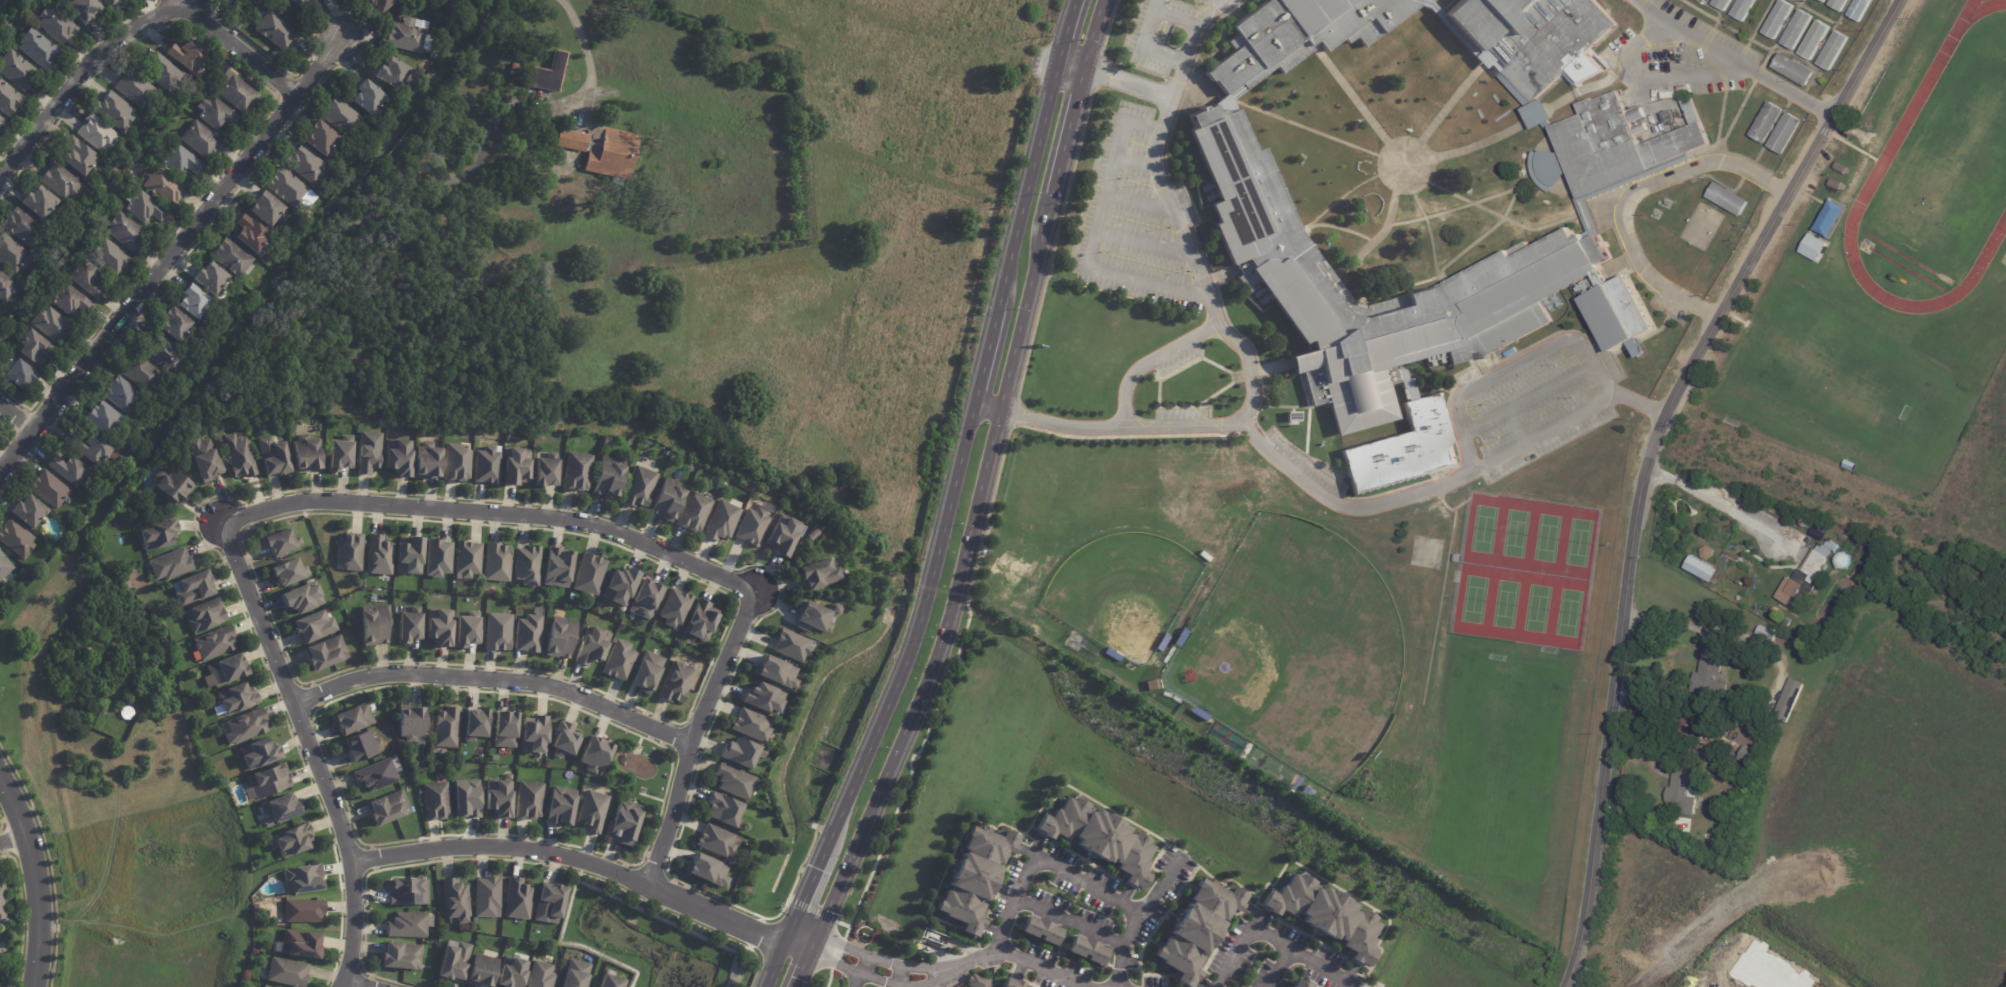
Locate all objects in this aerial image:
building: (247, 0)
building: (1705, 1)
road: (1786, 1)
building: (1823, 1)
building: (107, 2)
building: (295, 2)
road: (1220, 2)
building: (380, 4)
building: (1723, 4)
building: (1839, 4)
building: (81, 9)
building: (1744, 9)
building: (1860, 10)
road: (1807, 14)
road: (1174, 17)
building: (1779, 20)
road: (1760, 21)
building: (54, 23)
building: (275, 29)
road: (132, 30)
building: (1797, 31)
road: (1066, 32)
parking lot: (1160, 33)
road: (1091, 34)
building: (1296, 34)
building: (408, 35)
building: (1534, 37)
building: (1815, 41)
building: (36, 47)
road: (1138, 47)
road: (586, 48)
road: (1762, 51)
building: (1833, 52)
building: (184, 54)
road: (1723, 54)
building: (433, 55)
parking lot: (1681, 55)
building: (15, 69)
road: (1084, 69)
building: (162, 71)
building: (1789, 71)
building: (389, 72)
building: (545, 73)
building: (198, 78)
road: (1646, 78)
road: (1141, 87)
building: (133, 88)
building: (236, 91)
road: (1349, 93)
building: (367, 97)
road: (1453, 97)
building: (7, 98)
building: (112, 110)
road: (1822, 112)
building: (215, 113)
building: (337, 114)
road: (1278, 119)
track: (1904, 120)
building: (1, 121)
building: (1767, 123)
road: (1067, 131)
building: (93, 132)
road: (1503, 132)
building: (1786, 135)
building: (318, 138)
building: (199, 139)
building: (570, 139)
building: (1619, 144)
road: (1427, 149)
building: (614, 154)
building: (76, 155)
building: (180, 160)
road: (1131, 161)
building: (304, 164)
building: (1839, 169)
building: (60, 180)
building: (1834, 185)
building: (162, 186)
building: (286, 186)
road: (1025, 188)
road: (1631, 194)
building: (35, 200)
road: (1335, 201)
road: (1479, 201)
building: (1728, 201)
road: (1135, 202)
building: (143, 207)
building: (266, 208)
road: (1169, 211)
parking lot: (1127, 217)
road: (1522, 225)
building: (20, 226)
park: (1701, 227)
road: (1336, 229)
building: (125, 231)
building: (250, 233)
road: (1091, 234)
road: (1431, 235)
road: (1481, 236)
road: (1140, 241)
road: (1371, 244)
building: (1813, 247)
road: (169, 253)
building: (12, 255)
building: (232, 256)
building: (109, 257)
building: (1537, 269)
building: (208, 277)
building: (3, 278)
building: (86, 278)
building: (190, 299)
building: (69, 300)
road: (1025, 303)
building: (171, 322)
building: (48, 323)
building: (30, 348)
building: (163, 355)
road: (981, 359)
road: (1148, 362)
road: (1509, 369)
building: (15, 372)
building: (138, 372)
building: (116, 393)
road: (1627, 399)
road: (1528, 400)
parking lot: (1530, 409)
road: (1654, 411)
road: (999, 412)
parking lot: (1179, 413)
road: (16, 416)
building: (99, 417)
road: (1182, 426)
road: (1076, 428)
road: (1543, 435)
building: (605, 440)
building: (90, 446)
building: (1401, 449)
building: (368, 451)
building: (337, 452)
building: (306, 454)
road: (987, 454)
building: (239, 455)
building: (274, 456)
building: (399, 456)
building: (204, 458)
building: (428, 460)
building: (456, 462)
building: (488, 464)
parking lot: (1302, 464)
road: (1648, 464)
building: (514, 465)
road: (1285, 466)
building: (68, 468)
building: (576, 471)
building: (545, 472)
building: (608, 477)
building: (171, 483)
building: (640, 487)
building: (48, 489)
building: (668, 499)
road: (1405, 499)
road: (1715, 504)
building: (27, 512)
building: (694, 512)
road: (497, 514)
building: (721, 521)
building: (751, 526)
building: (156, 534)
building: (782, 536)
building: (15, 539)
building: (281, 544)
building: (349, 552)
building: (378, 555)
building: (409, 557)
building: (437, 558)
building: (466, 559)
building: (1458, 559)
building: (496, 562)
building: (169, 565)
building: (526, 565)
building: (4, 566)
building: (558, 567)
building: (1701, 569)
building: (288, 572)
building: (819, 573)
park: (1525, 573)
building: (588, 575)
building: (1807, 578)
building: (619, 586)
building: (15, 587)
building: (195, 589)
park: (1122, 592)
building: (1835, 592)
building: (301, 597)
building: (0, 598)
building: (644, 599)
building: (674, 607)
building: (835, 609)
building: (205, 616)
building: (811, 618)
building: (700, 621)
building: (373, 625)
building: (312, 626)
building: (406, 626)
building: (439, 626)
building: (465, 631)
building: (497, 631)
road: (910, 631)
building: (527, 632)
building: (558, 637)
building: (1179, 637)
building: (1162, 642)
building: (214, 643)
building: (791, 645)
building: (590, 647)
park: (1292, 650)
building: (324, 652)
building: (752, 653)
building: (1111, 654)
building: (618, 660)
building: (225, 669)
building: (1706, 669)
building: (645, 672)
building: (775, 672)
building: (1806, 674)
road: (494, 679)
building: (675, 684)
building: (1151, 685)
building: (1723, 689)
building: (1792, 693)
building: (762, 698)
building: (237, 700)
building: (1198, 714)
building: (350, 719)
building: (410, 723)
building: (749, 724)
building: (474, 725)
road: (906, 726)
building: (245, 727)
building: (447, 728)
building: (505, 730)
building: (533, 734)
road: (691, 736)
building: (1764, 738)
building: (564, 740)
park: (1503, 742)
building: (1755, 745)
building: (358, 746)
road: (311, 750)
building: (739, 752)
building: (260, 754)
building: (595, 754)
building: (1748, 756)
building: (495, 758)
building: (374, 775)
building: (268, 780)
building: (733, 781)
building: (1743, 789)
building: (1682, 792)
building: (497, 798)
building: (465, 799)
building: (434, 800)
building: (528, 801)
building: (560, 806)
building: (279, 808)
building: (384, 808)
building: (592, 810)
building: (723, 810)
building: (625, 823)
building: (1098, 838)
building: (291, 839)
road: (14, 840)
building: (715, 841)
road: (574, 860)
road: (1044, 861)
building: (707, 870)
building: (972, 874)
road: (42, 878)
building: (302, 879)
building: (406, 893)
road: (802, 893)
building: (486, 897)
building: (517, 899)
building: (454, 900)
building: (4, 902)
building: (548, 903)
road: (810, 909)
building: (303, 912)
building: (1321, 916)
road: (1138, 917)
road: (1067, 921)
building: (406, 925)
building: (1194, 929)
building: (1039, 930)
road: (1257, 933)
road: (796, 943)
building: (300, 944)
building: (504, 947)
road: (816, 949)
building: (1085, 949)
building: (400, 957)
road: (884, 958)
road: (1021, 958)
building: (453, 963)
road: (775, 963)
road: (1313, 963)
road: (802, 966)
building: (480, 972)
building: (287, 973)
building: (509, 973)
building: (573, 974)
building: (540, 976)
road: (848, 977)
road: (884, 980)
building: (976, 981)
road: (362, 982)
building: (608, 982)
building: (1297, 983)
road: (897, 985)
building: (262, 986)
building: (265, 986)
building: (1011, 986)

